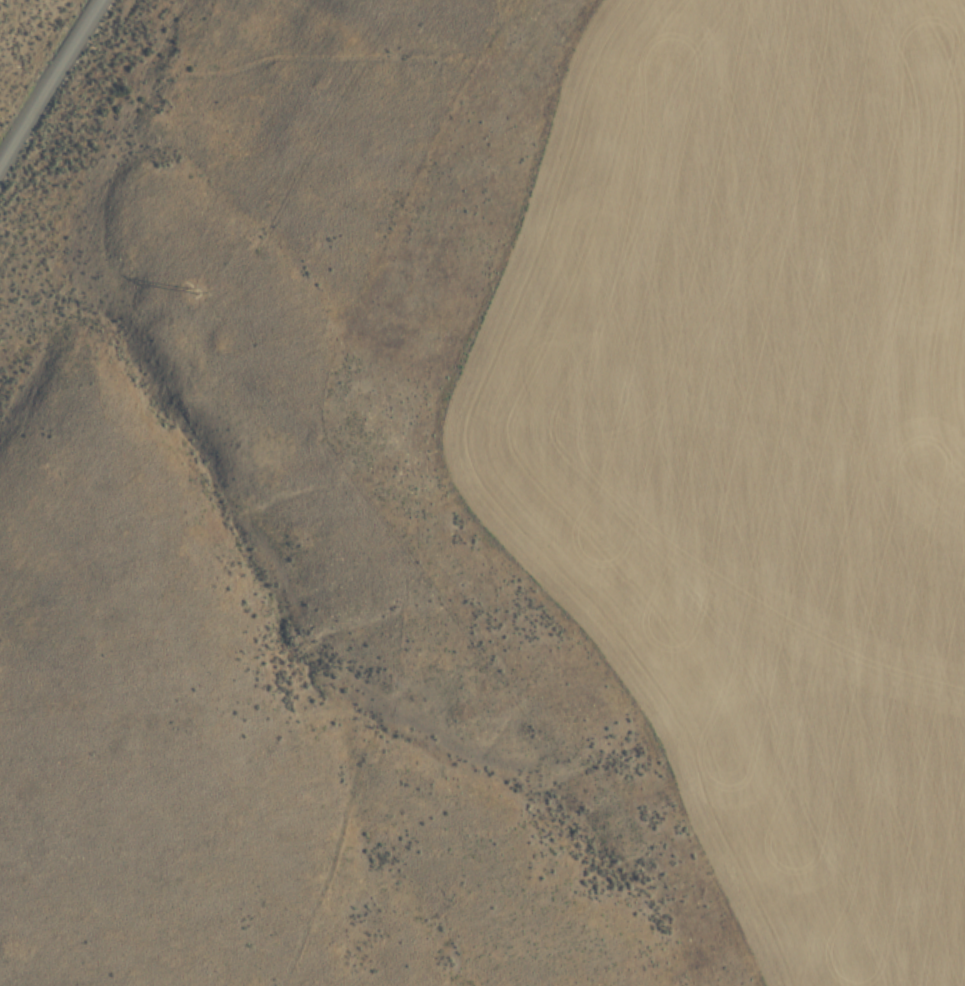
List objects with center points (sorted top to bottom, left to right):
road: (49, 79)

